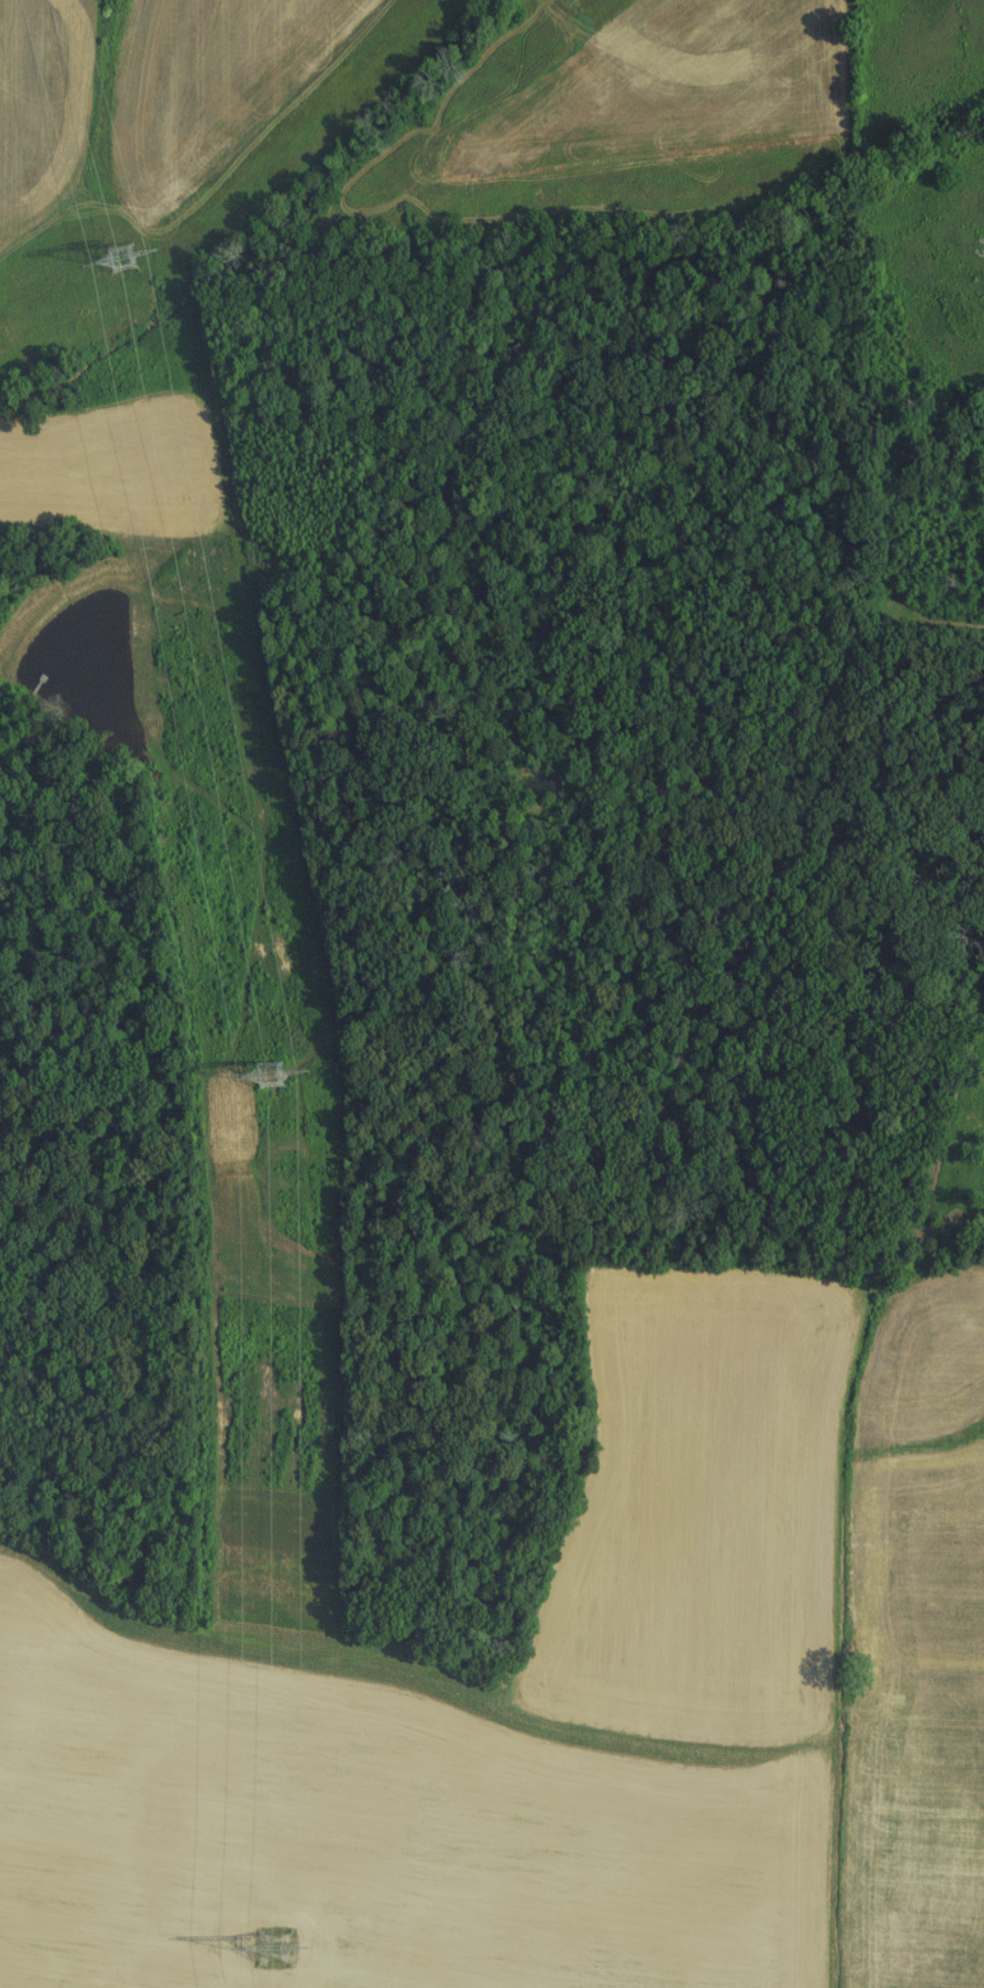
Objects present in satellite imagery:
power tower: (118, 260)
power tower: (264, 1074)
power tower: (274, 1948)

